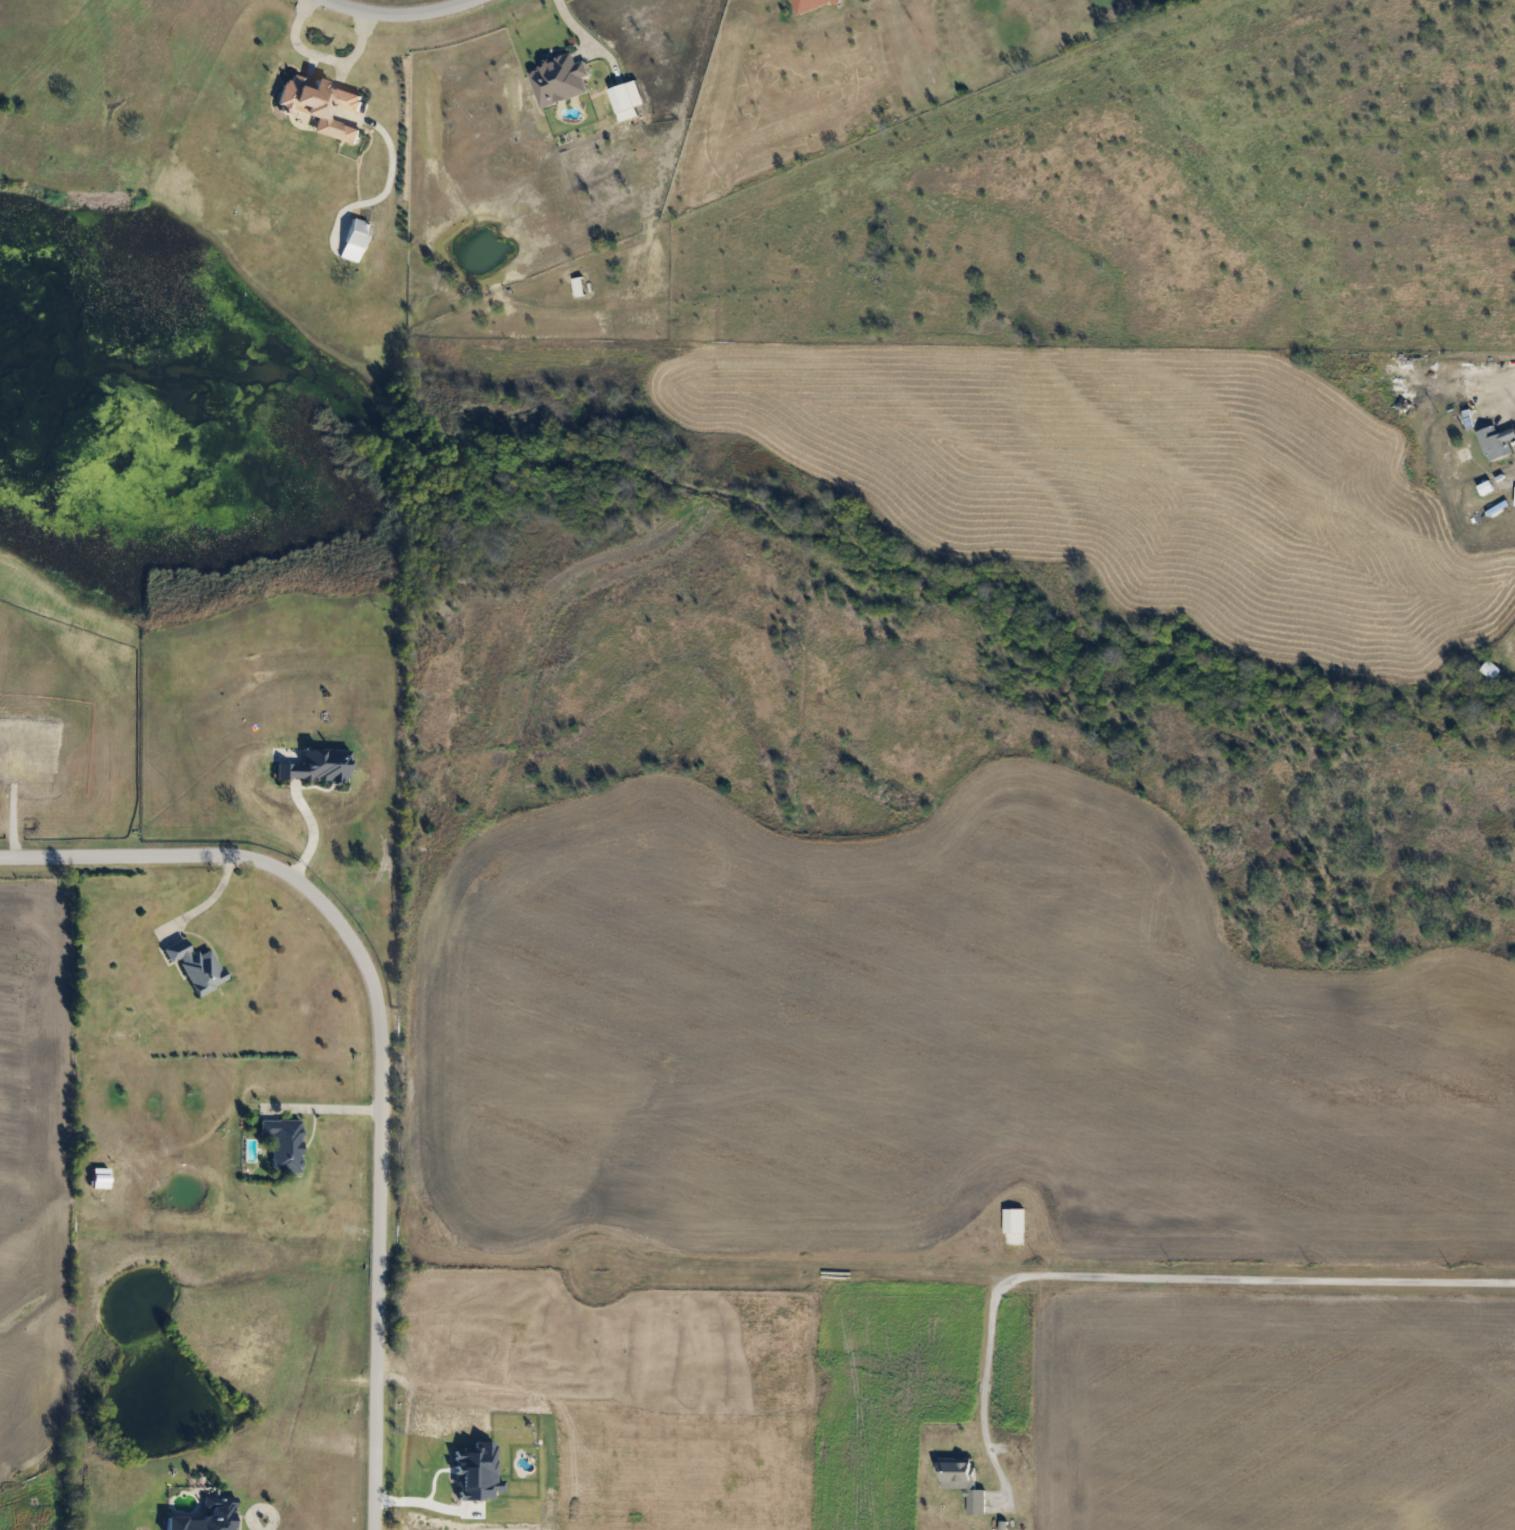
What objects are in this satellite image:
building: (809, 4)
road: (399, 17)
road: (582, 35)
road: (317, 54)
building: (321, 104)
road: (1510, 397)
building: (1496, 441)
road: (209, 895)
building: (195, 965)
road: (380, 1034)
road: (322, 1109)
building: (282, 1144)
road: (1053, 1275)
road: (984, 1376)
building: (962, 1481)
building: (206, 1516)

